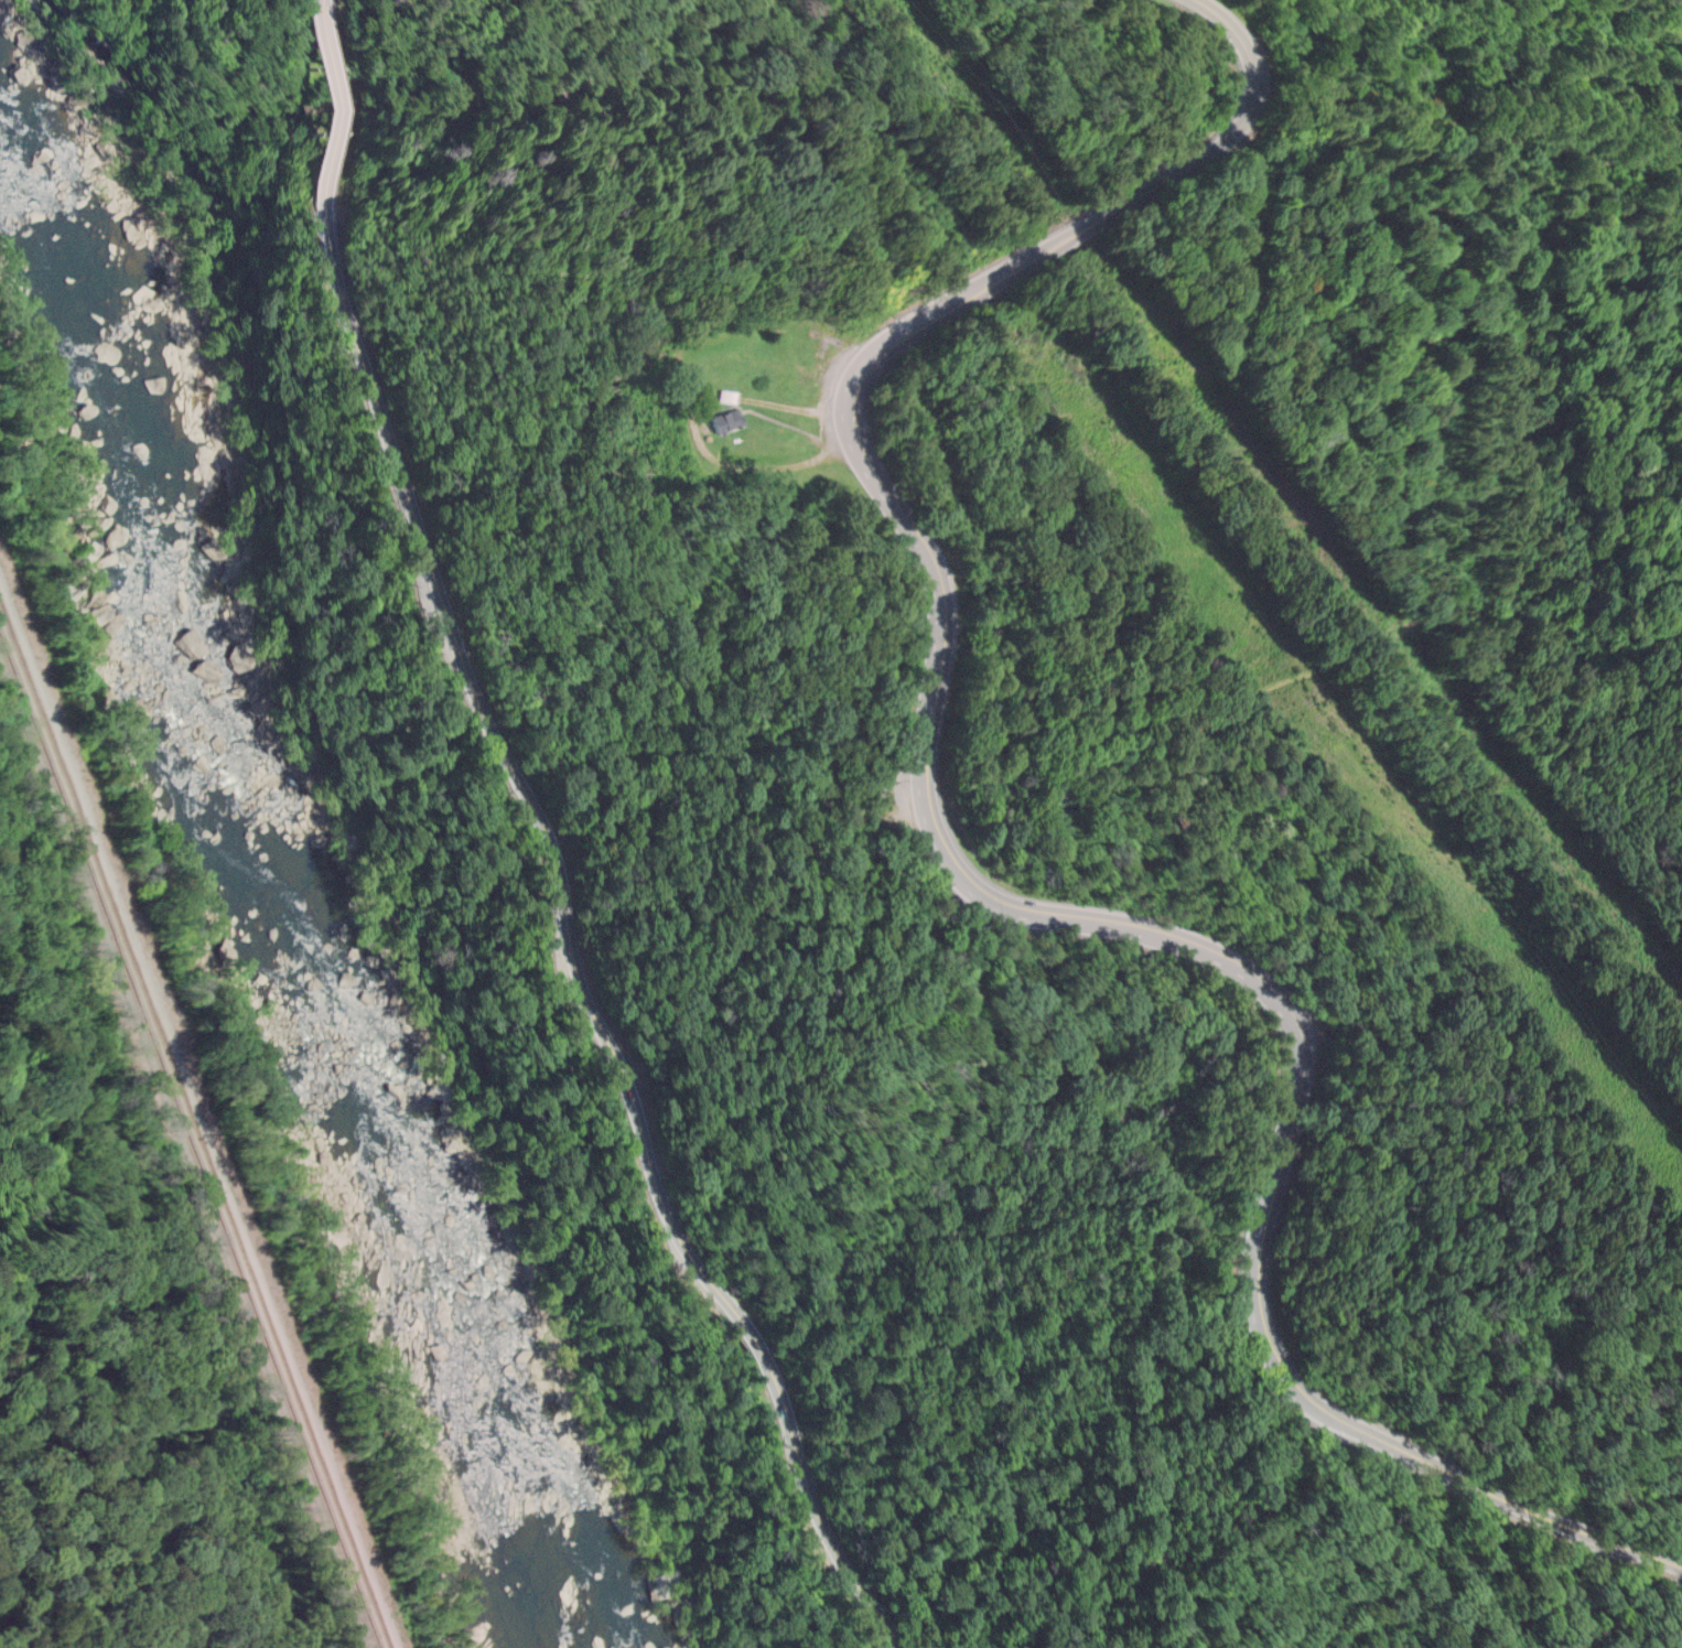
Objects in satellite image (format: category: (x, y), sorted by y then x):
road: (1438, 6)
road: (322, 111)
road: (1188, 153)
building: (725, 396)
building: (725, 420)
road: (926, 747)
river: (282, 948)
road: (570, 955)
railway: (195, 1125)
railway: (190, 1141)
road: (1262, 1221)
road: (1460, 1475)

